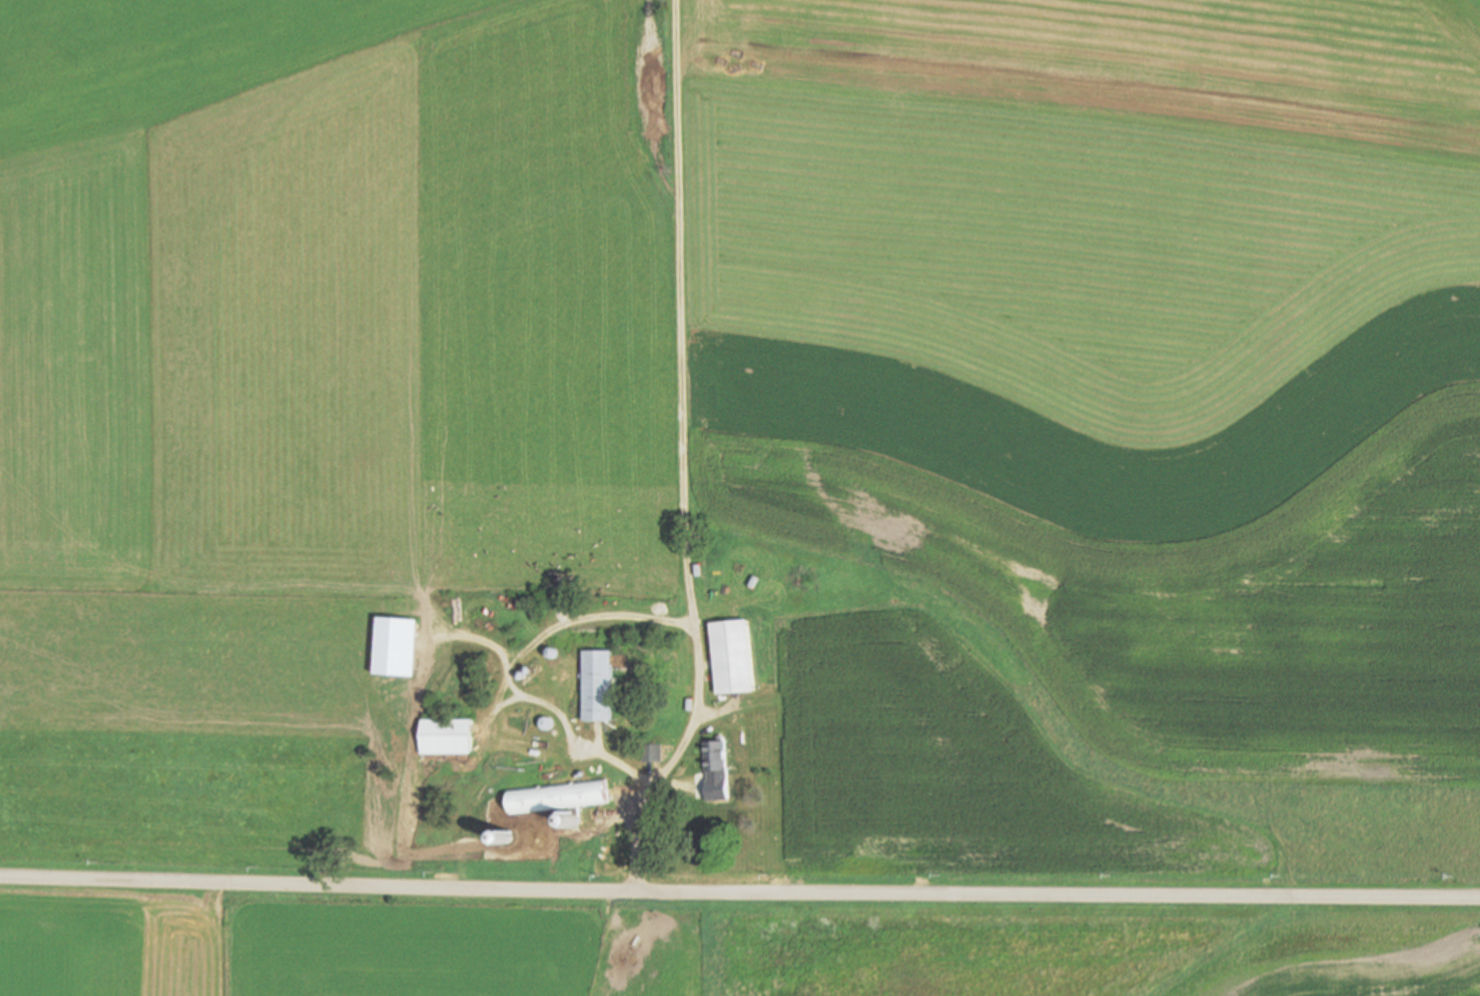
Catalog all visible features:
road: (634, 615)
building: (731, 655)
building: (597, 685)
building: (447, 736)
building: (650, 752)
building: (714, 754)
building: (559, 797)
road: (739, 894)

